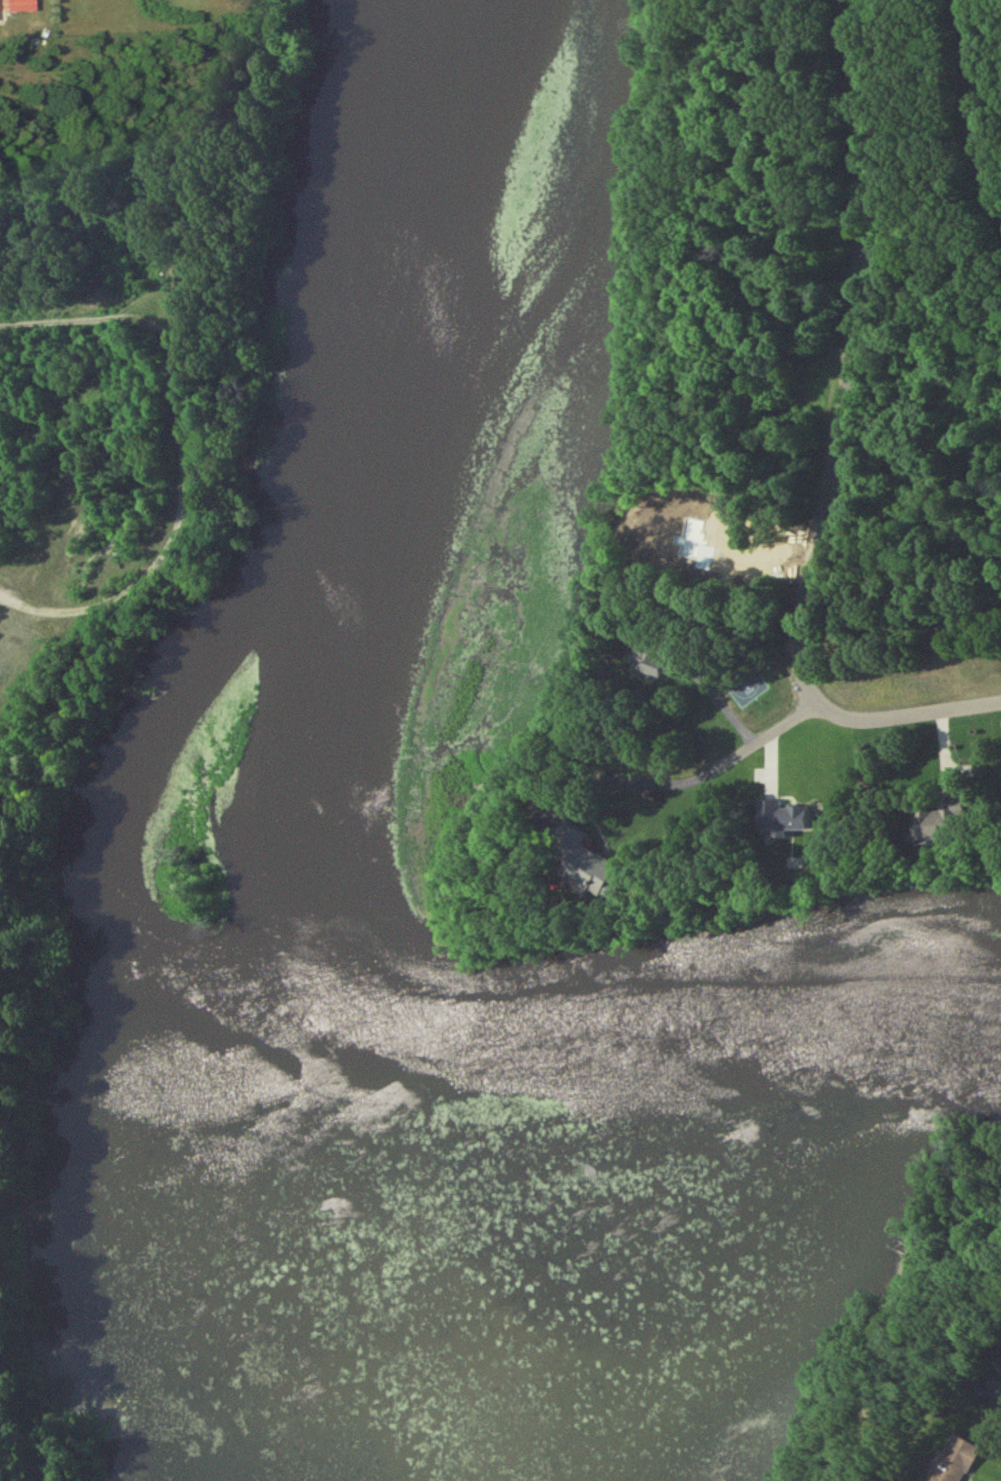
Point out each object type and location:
building: (1, 0)
road: (965, 109)
road: (841, 452)
road: (177, 454)
building: (646, 664)
road: (714, 701)
road: (723, 770)
building: (934, 826)
building: (580, 870)
river: (261, 1043)
building: (1000, 1380)
building: (949, 1463)

